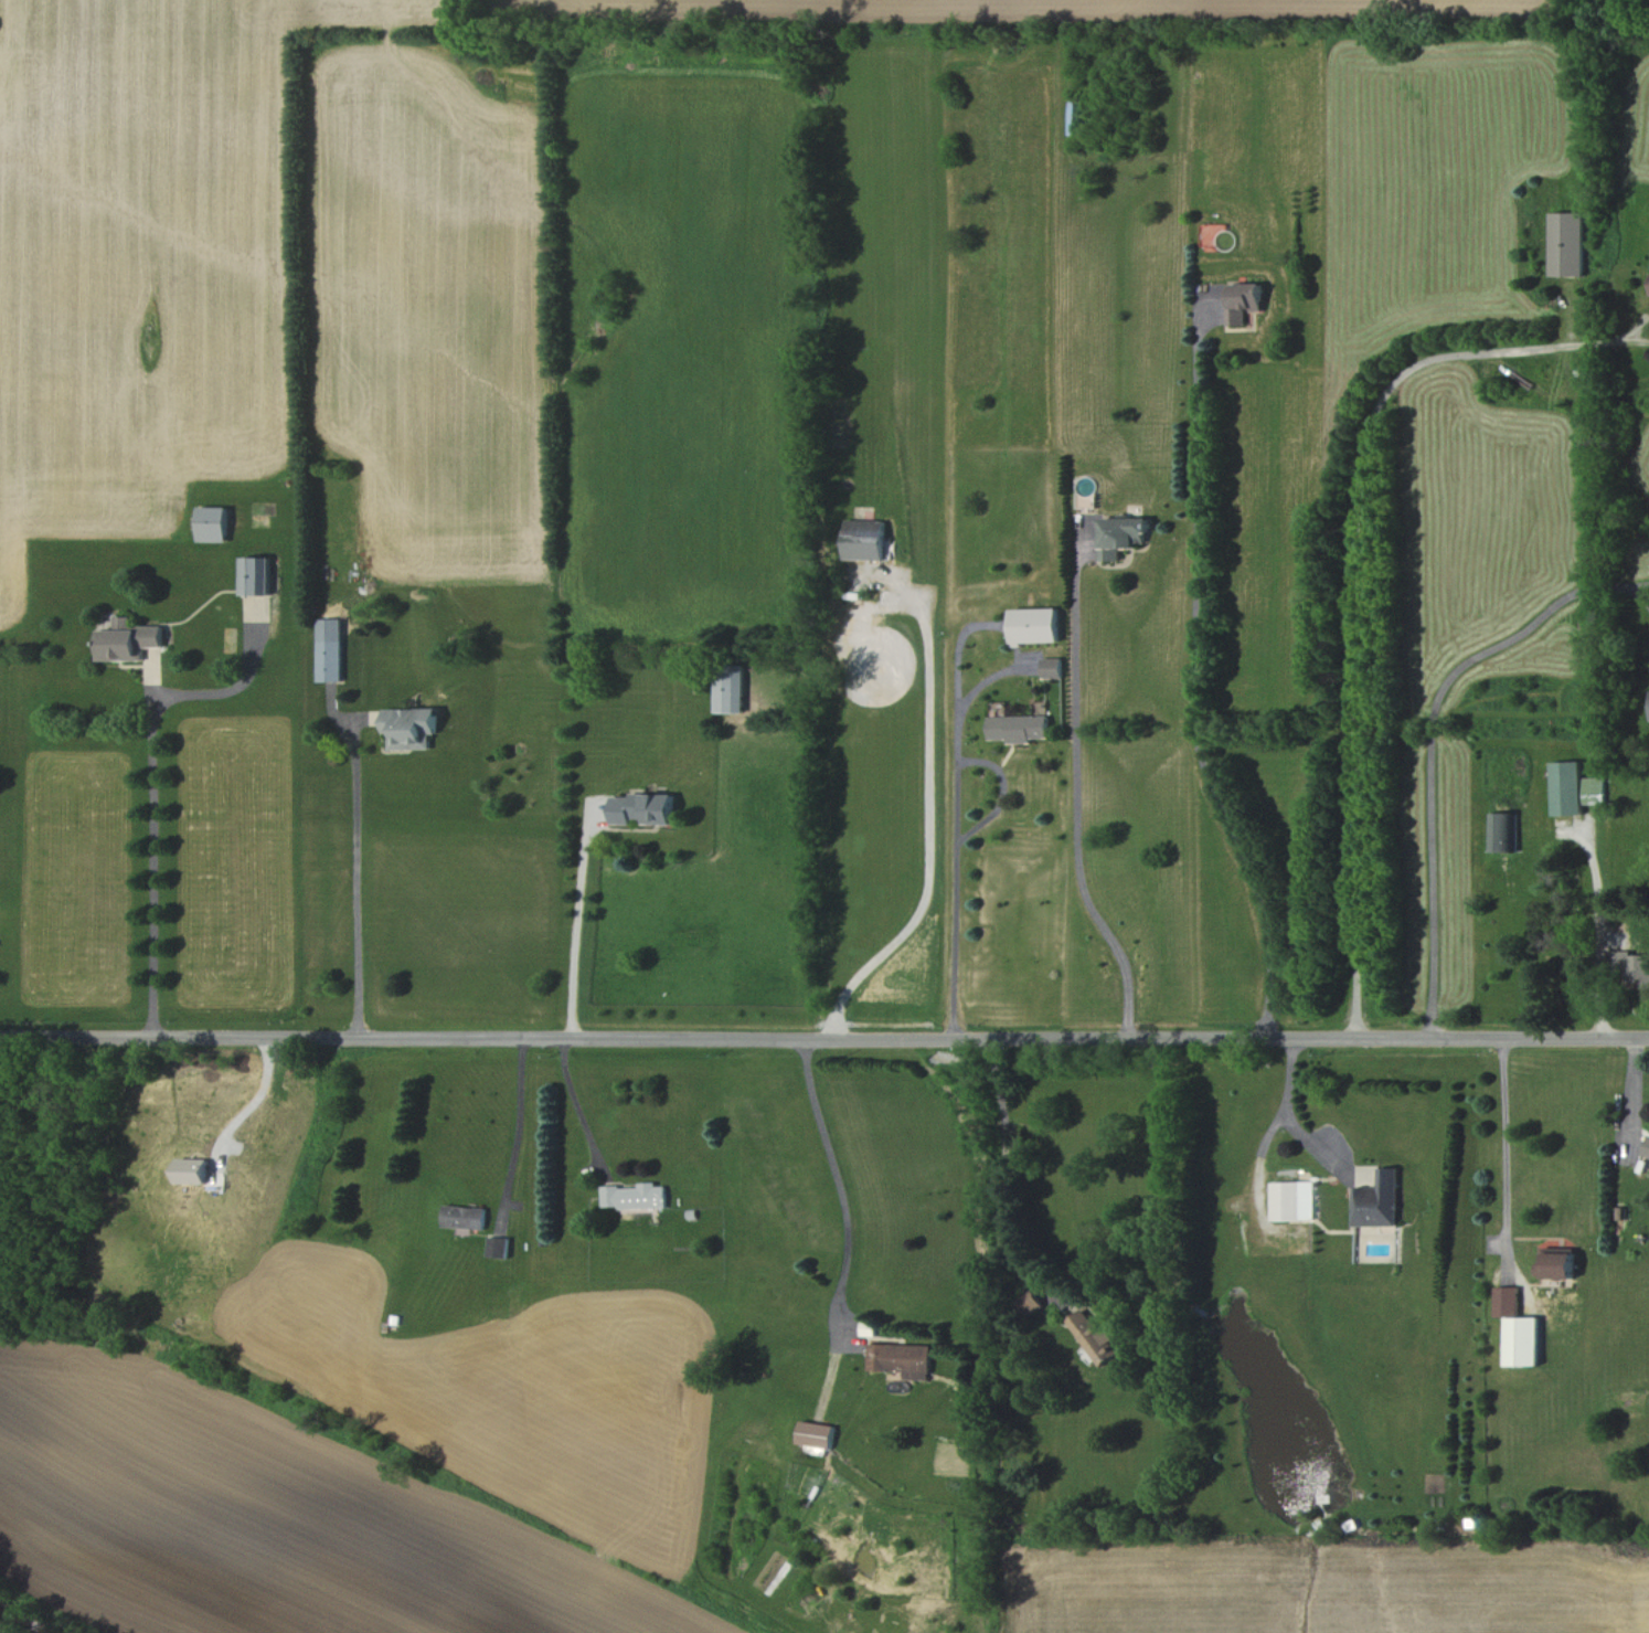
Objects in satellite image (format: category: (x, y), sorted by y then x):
building: (1568, 242)
building: (1245, 300)
building: (211, 522)
building: (1121, 534)
building: (864, 538)
road: (1354, 572)
building: (255, 574)
building: (1036, 624)
building: (127, 638)
building: (330, 649)
building: (1053, 667)
road: (1195, 683)
building: (730, 687)
building: (411, 725)
building: (1020, 727)
road: (1432, 738)
building: (1573, 787)
road: (1078, 795)
building: (641, 807)
road: (927, 827)
building: (1503, 830)
road: (153, 860)
road: (359, 880)
road: (955, 887)
road: (576, 924)
road: (1600, 925)
building: (1631, 966)
road: (824, 1033)
road: (1289, 1074)
road: (1632, 1090)
road: (259, 1096)
road: (577, 1103)
road: (521, 1122)
road: (1317, 1147)
road: (1260, 1148)
building: (1646, 1148)
road: (1506, 1149)
building: (192, 1169)
road: (1007, 1173)
road: (838, 1181)
building: (634, 1195)
building: (1290, 1199)
building: (1377, 1199)
building: (465, 1216)
building: (1560, 1261)
building: (1028, 1301)
building: (1519, 1327)
building: (1092, 1335)
building: (902, 1358)
building: (816, 1432)

